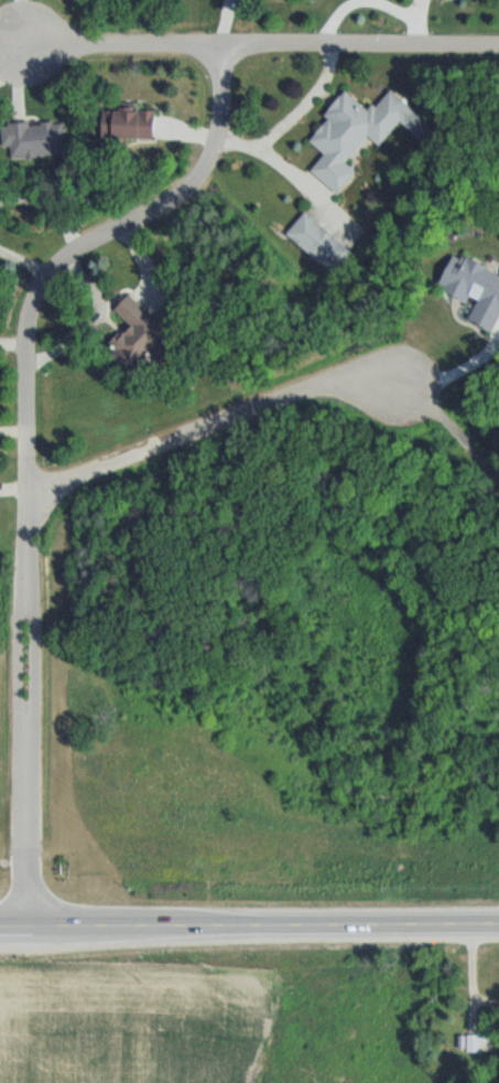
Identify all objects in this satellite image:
road: (121, 43)
road: (355, 46)
building: (138, 126)
building: (357, 136)
building: (35, 140)
building: (323, 244)
building: (138, 332)
road: (208, 426)
road: (26, 439)
road: (249, 923)
crop: (124, 1025)
building: (469, 1044)

